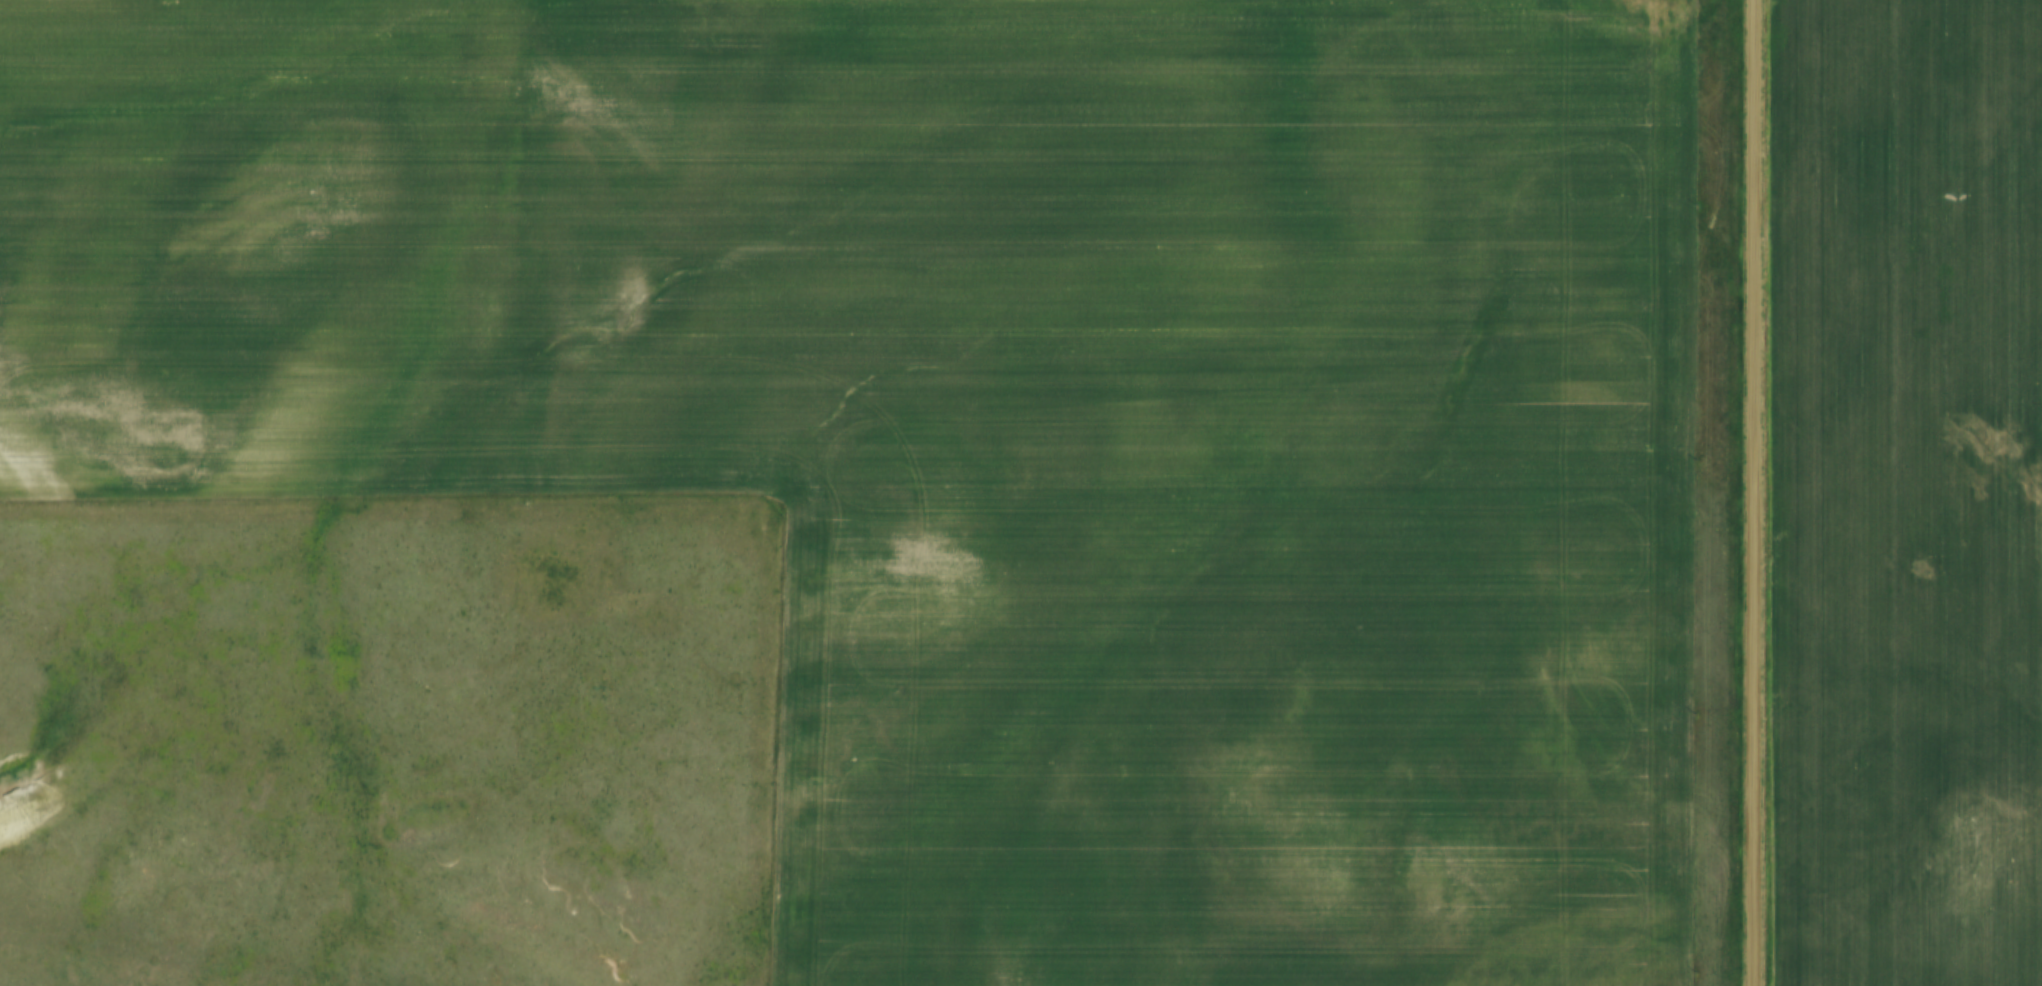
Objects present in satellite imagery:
road: (1755, 493)

